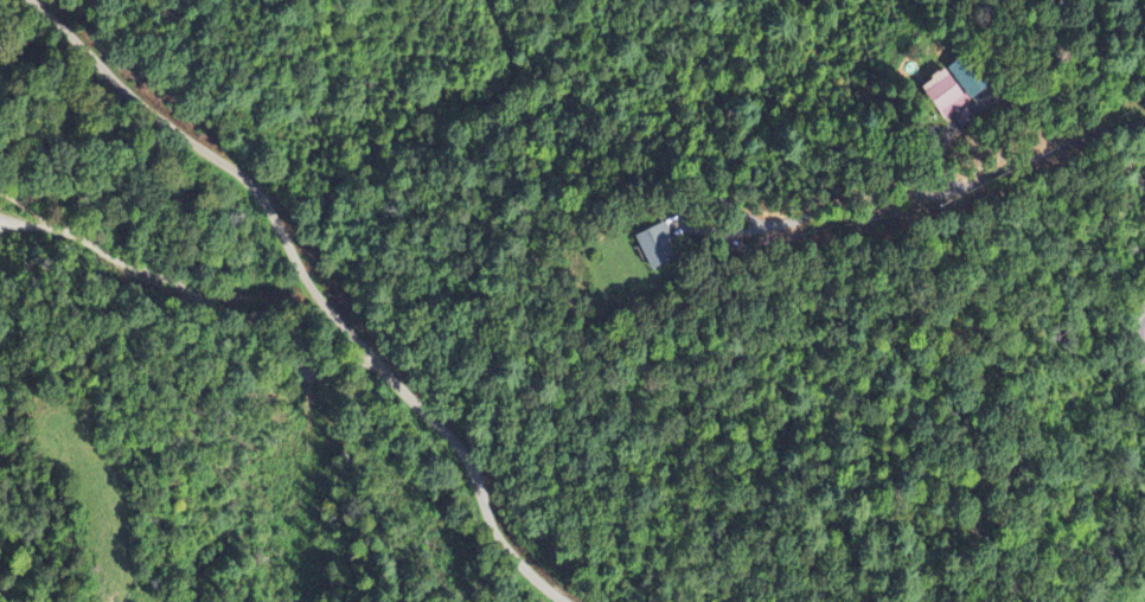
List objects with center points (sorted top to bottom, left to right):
building: (940, 96)
building: (654, 248)
road: (1128, 334)

